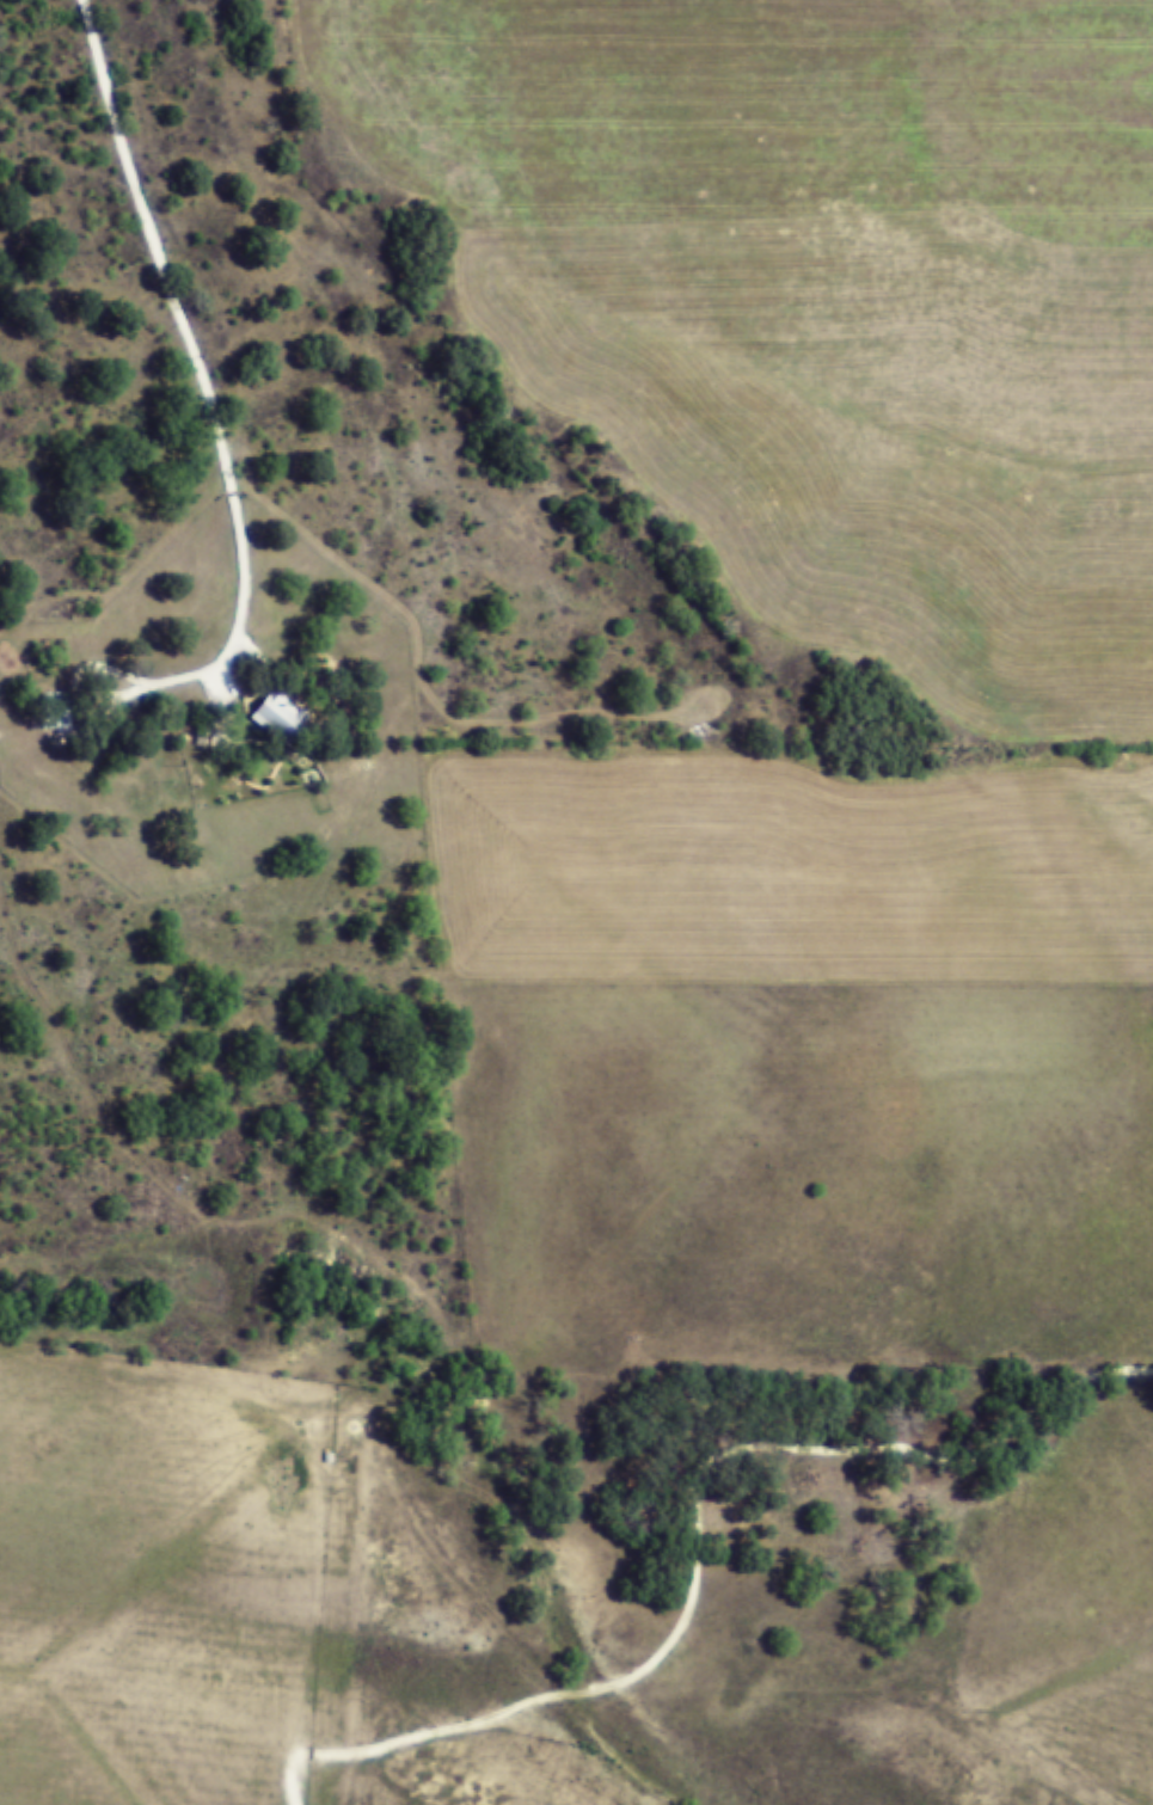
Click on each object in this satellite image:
road: (454, 553)
building: (282, 717)

